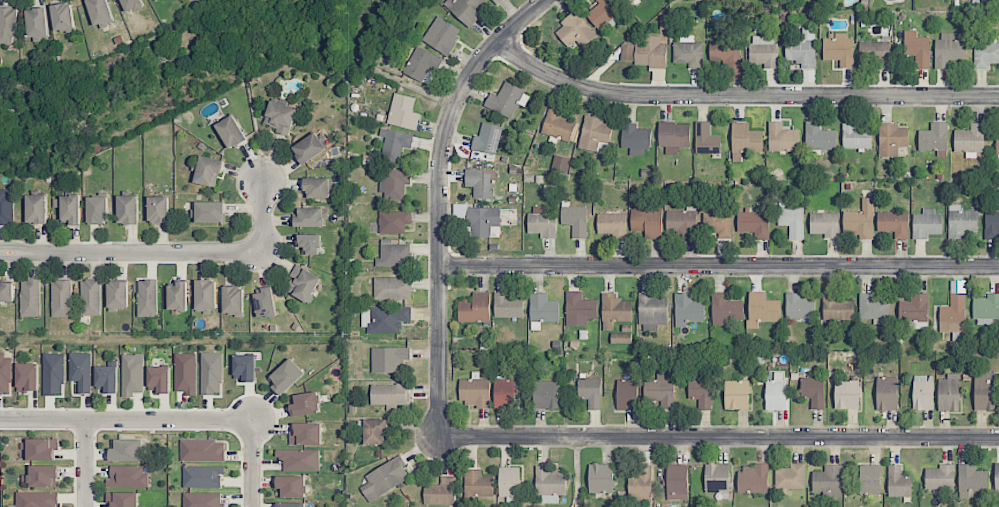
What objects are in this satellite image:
building: (155, 0)
building: (495, 1)
building: (629, 1)
building: (132, 4)
building: (464, 10)
building: (100, 12)
building: (603, 12)
building: (63, 17)
building: (37, 22)
building: (7, 25)
building: (575, 31)
building: (442, 35)
building: (917, 48)
building: (802, 49)
building: (839, 49)
building: (949, 49)
building: (764, 51)
building: (646, 52)
building: (688, 52)
building: (726, 53)
building: (876, 53)
building: (986, 54)
building: (422, 64)
road: (741, 97)
building: (506, 100)
building: (403, 112)
building: (280, 117)
building: (558, 124)
building: (231, 132)
building: (595, 135)
building: (674, 136)
building: (819, 137)
building: (856, 137)
building: (934, 137)
building: (782, 138)
building: (487, 139)
building: (635, 139)
building: (706, 139)
building: (892, 139)
building: (745, 140)
building: (970, 140)
building: (395, 144)
building: (997, 146)
building: (308, 148)
building: (561, 163)
building: (208, 171)
building: (481, 182)
building: (396, 184)
building: (318, 187)
road: (439, 199)
building: (6, 208)
building: (36, 209)
building: (128, 209)
building: (70, 210)
building: (97, 210)
building: (159, 210)
building: (210, 212)
building: (310, 218)
building: (575, 220)
building: (394, 221)
building: (483, 221)
building: (717, 221)
building: (792, 221)
building: (860, 221)
building: (647, 222)
building: (681, 222)
building: (961, 222)
building: (542, 223)
building: (754, 223)
building: (894, 223)
building: (611, 224)
building: (825, 224)
building: (926, 224)
building: (991, 225)
building: (309, 243)
road: (12, 247)
road: (180, 254)
building: (393, 254)
road: (12, 260)
road: (719, 267)
building: (303, 283)
building: (393, 288)
building: (6, 292)
building: (118, 295)
building: (205, 296)
building: (90, 297)
building: (177, 297)
building: (30, 298)
building: (61, 298)
building: (147, 298)
building: (232, 300)
building: (265, 303)
building: (508, 305)
building: (799, 307)
building: (475, 308)
building: (616, 308)
building: (836, 308)
building: (873, 308)
building: (579, 309)
building: (687, 309)
building: (725, 309)
building: (762, 309)
building: (954, 309)
building: (986, 309)
building: (542, 310)
building: (915, 311)
building: (652, 312)
building: (384, 318)
building: (621, 338)
building: (389, 359)
building: (244, 367)
building: (81, 371)
building: (185, 373)
building: (211, 373)
building: (5, 374)
building: (53, 374)
building: (132, 374)
building: (286, 376)
building: (27, 377)
building: (107, 378)
building: (159, 379)
building: (660, 390)
building: (984, 390)
building: (590, 391)
building: (474, 392)
building: (776, 392)
building: (814, 392)
building: (504, 393)
building: (886, 393)
building: (922, 393)
building: (948, 393)
building: (390, 394)
building: (626, 394)
building: (847, 394)
building: (545, 395)
building: (737, 395)
building: (306, 404)
road: (127, 420)
building: (375, 432)
building: (306, 434)
road: (718, 438)
building: (39, 450)
building: (127, 450)
building: (203, 450)
building: (299, 459)
road: (86, 463)
road: (254, 464)
building: (41, 476)
building: (128, 476)
building: (203, 477)
building: (790, 477)
building: (940, 477)
building: (600, 478)
building: (717, 478)
building: (753, 478)
building: (996, 478)
building: (384, 479)
building: (870, 479)
building: (827, 480)
building: (971, 480)
building: (509, 482)
building: (677, 482)
building: (898, 482)
building: (478, 484)
building: (550, 484)
building: (640, 484)
building: (291, 486)
building: (441, 492)
building: (37, 499)
building: (123, 499)
building: (202, 499)
building: (291, 504)

